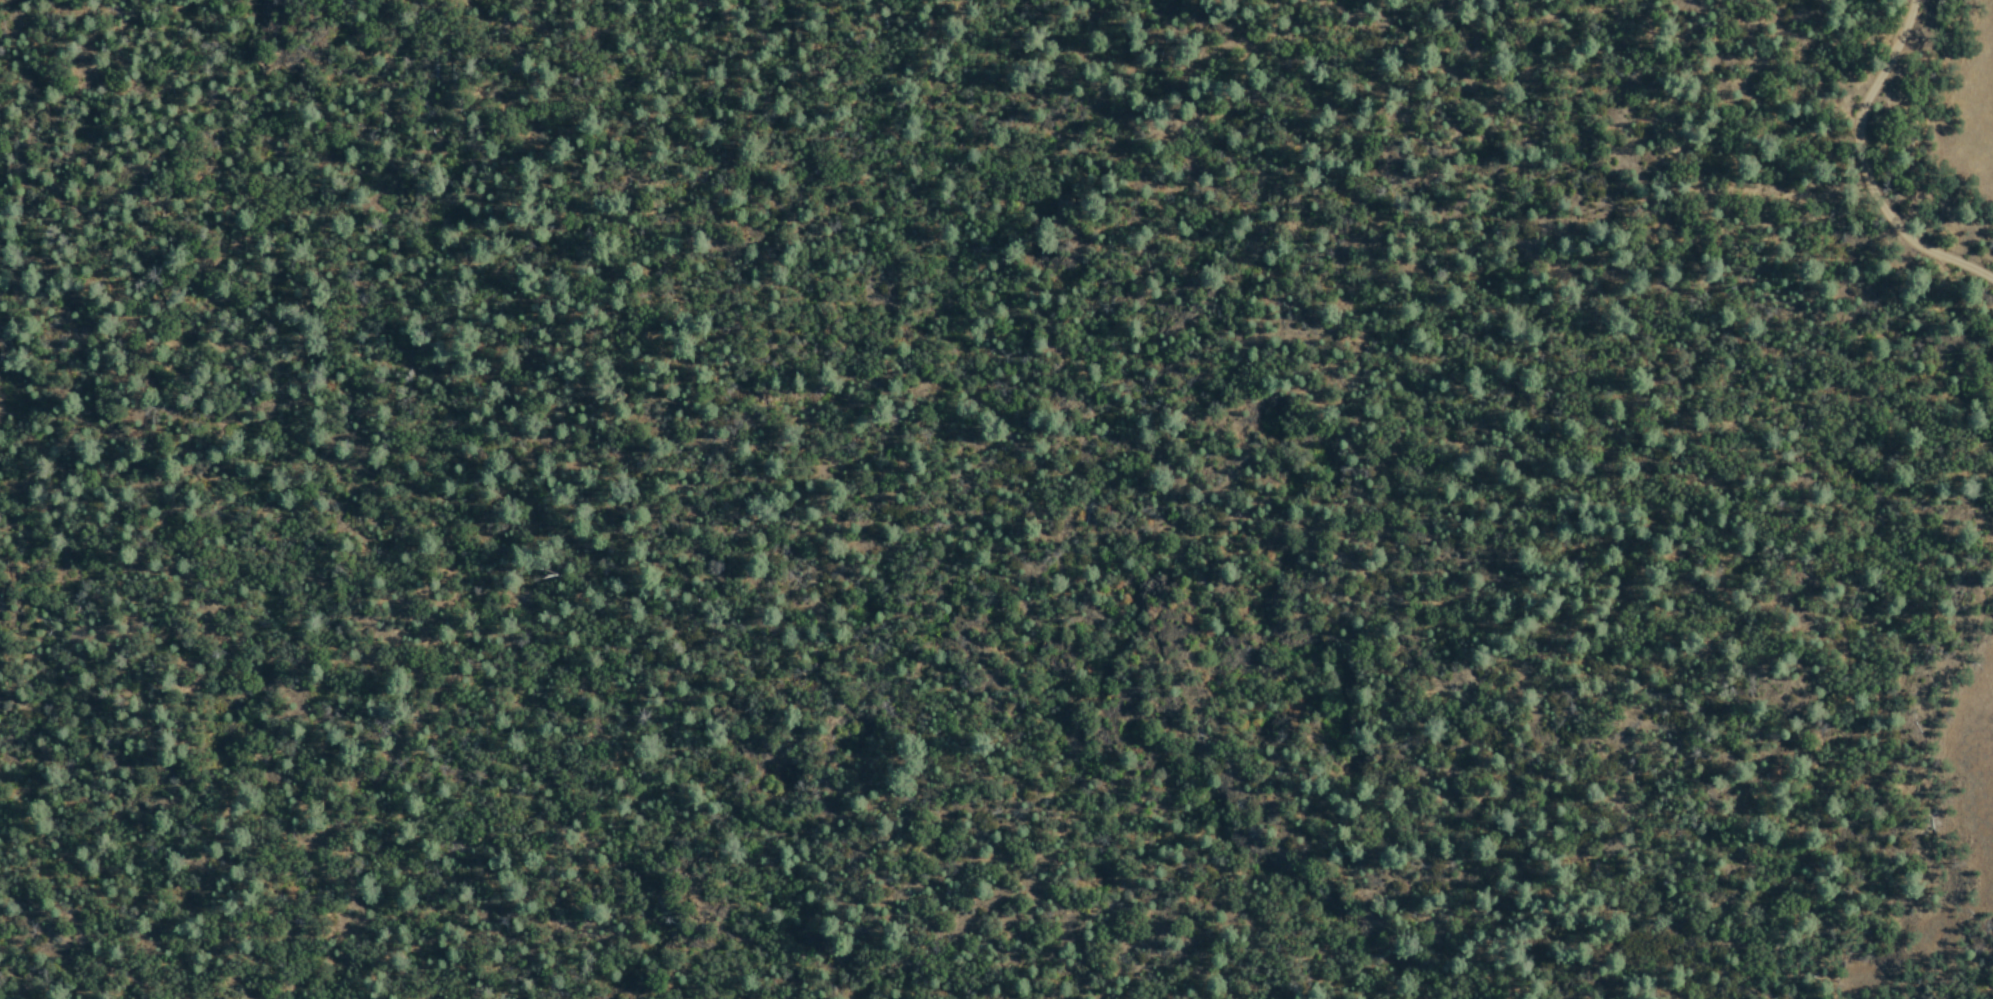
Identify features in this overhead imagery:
road: (1863, 168)

